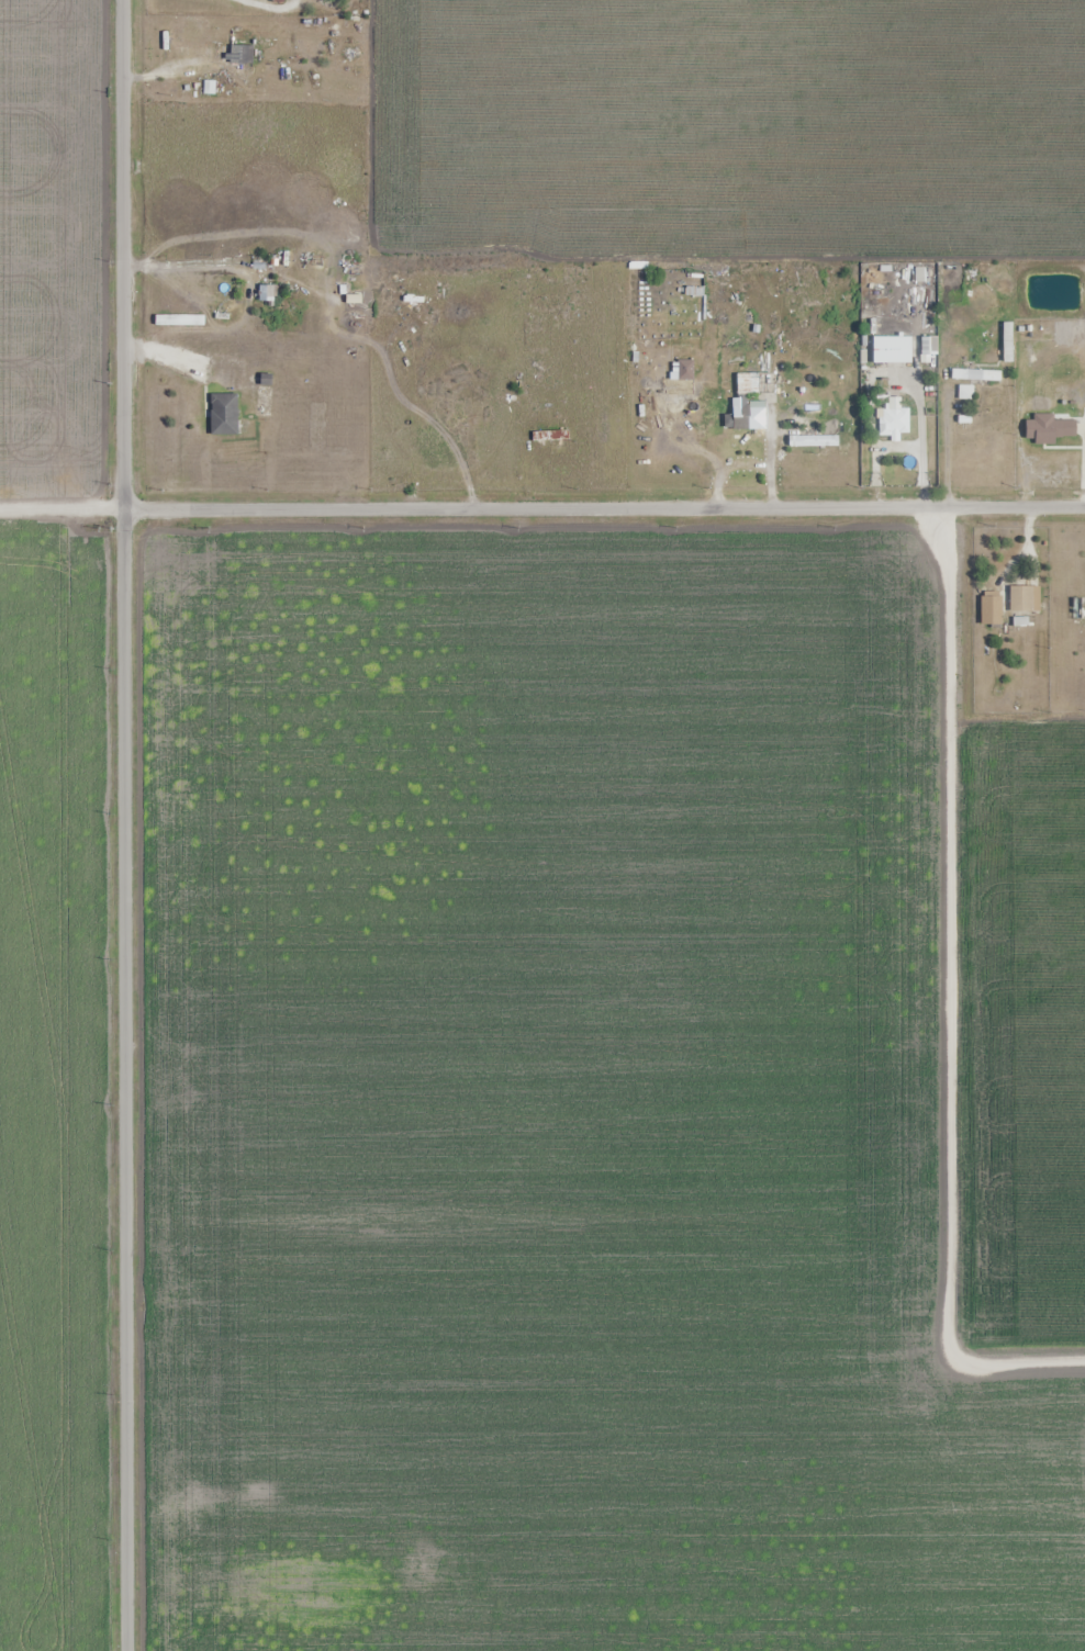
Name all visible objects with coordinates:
building: (278, 1)
road: (260, 9)
building: (239, 58)
building: (694, 280)
building: (266, 293)
building: (1006, 341)
building: (893, 353)
building: (973, 373)
building: (747, 383)
building: (964, 392)
building: (223, 414)
building: (737, 414)
building: (894, 418)
building: (553, 425)
road: (604, 507)
road: (61, 508)
building: (1020, 599)
building: (989, 609)
road: (124, 824)

